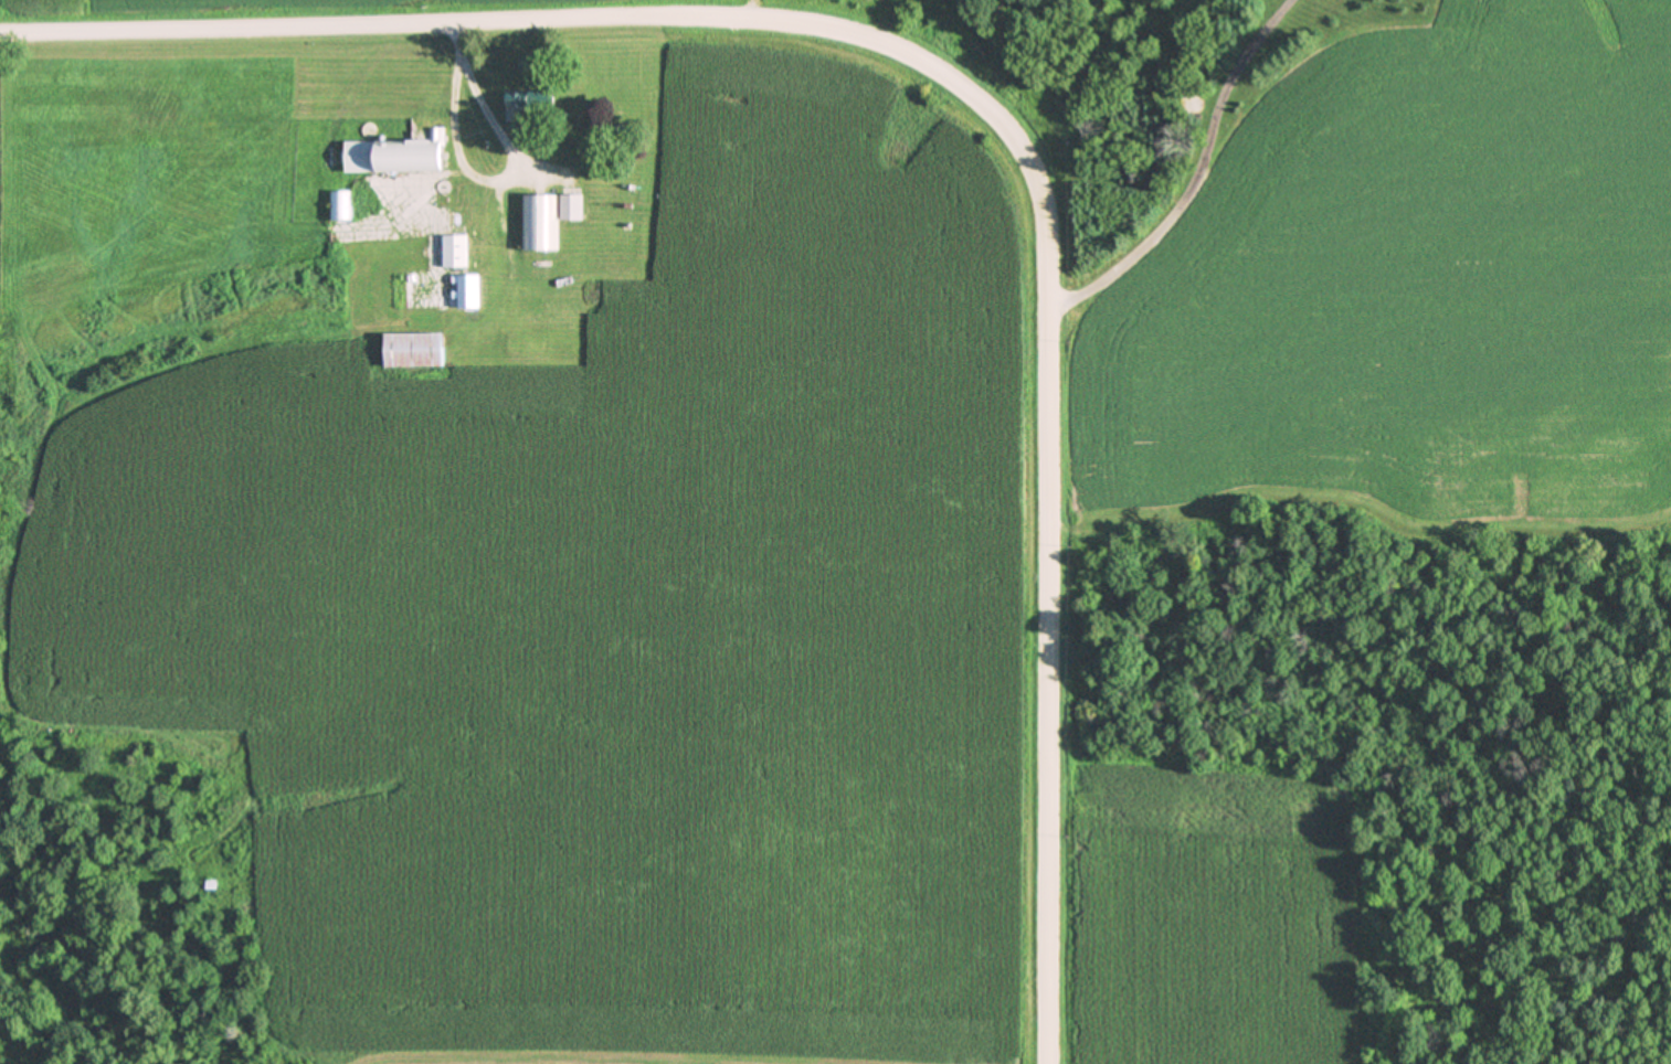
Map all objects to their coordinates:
road: (504, 20)
building: (532, 104)
building: (399, 156)
building: (339, 204)
building: (573, 206)
building: (538, 222)
building: (455, 251)
building: (470, 290)
building: (415, 350)
road: (1056, 576)

